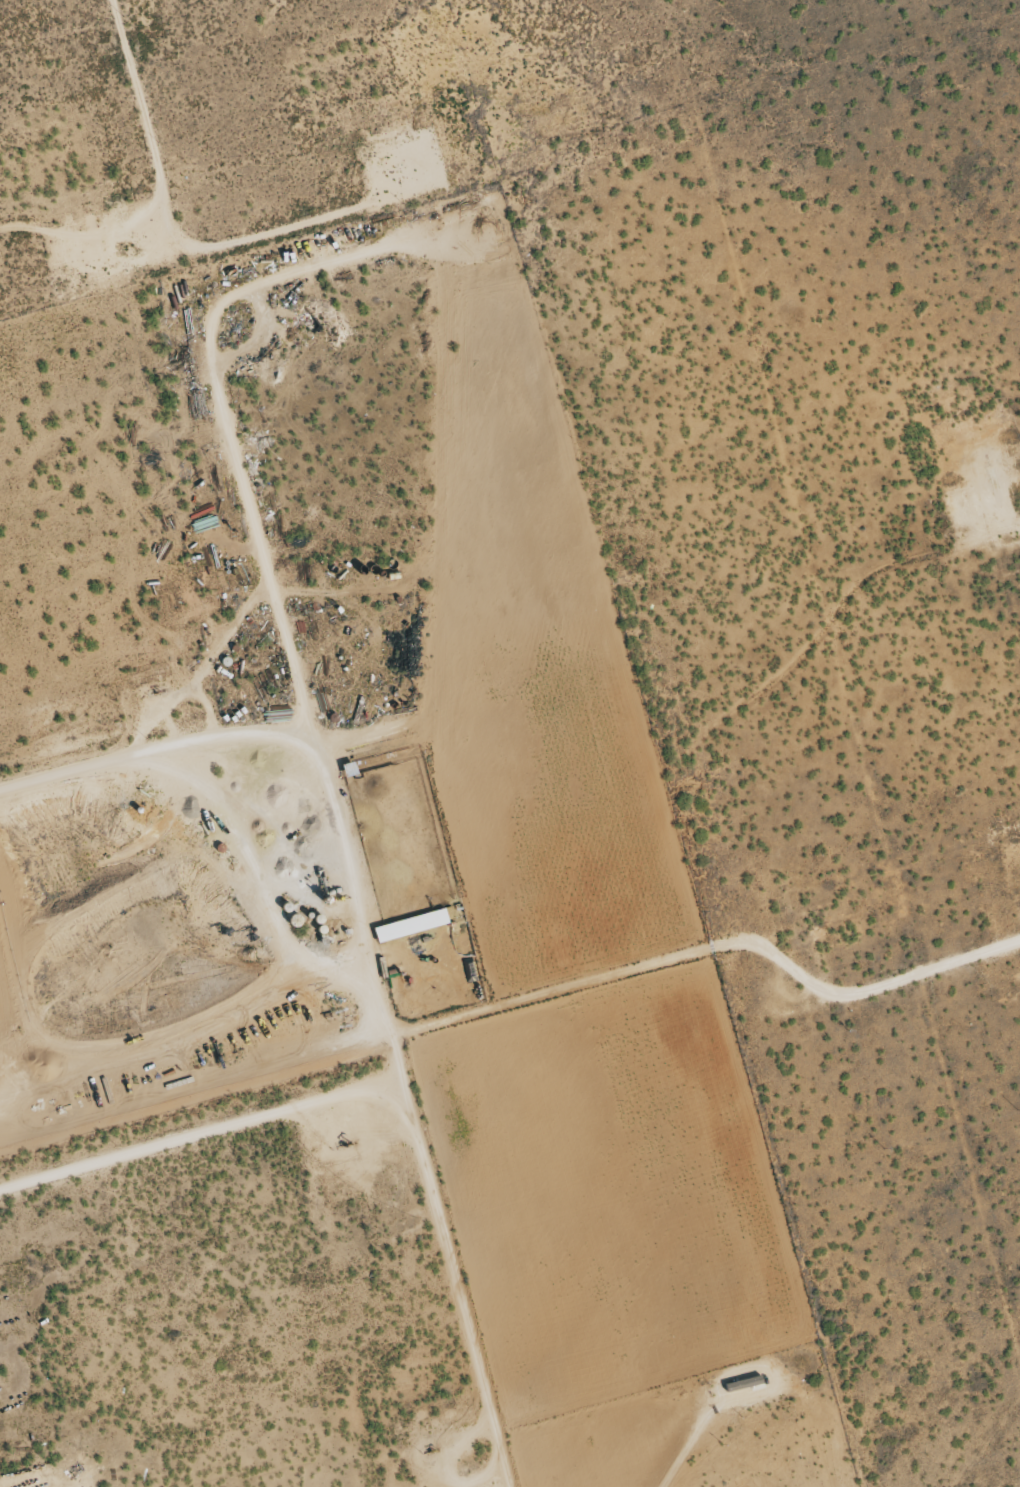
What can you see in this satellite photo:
road: (313, 737)
building: (409, 925)

